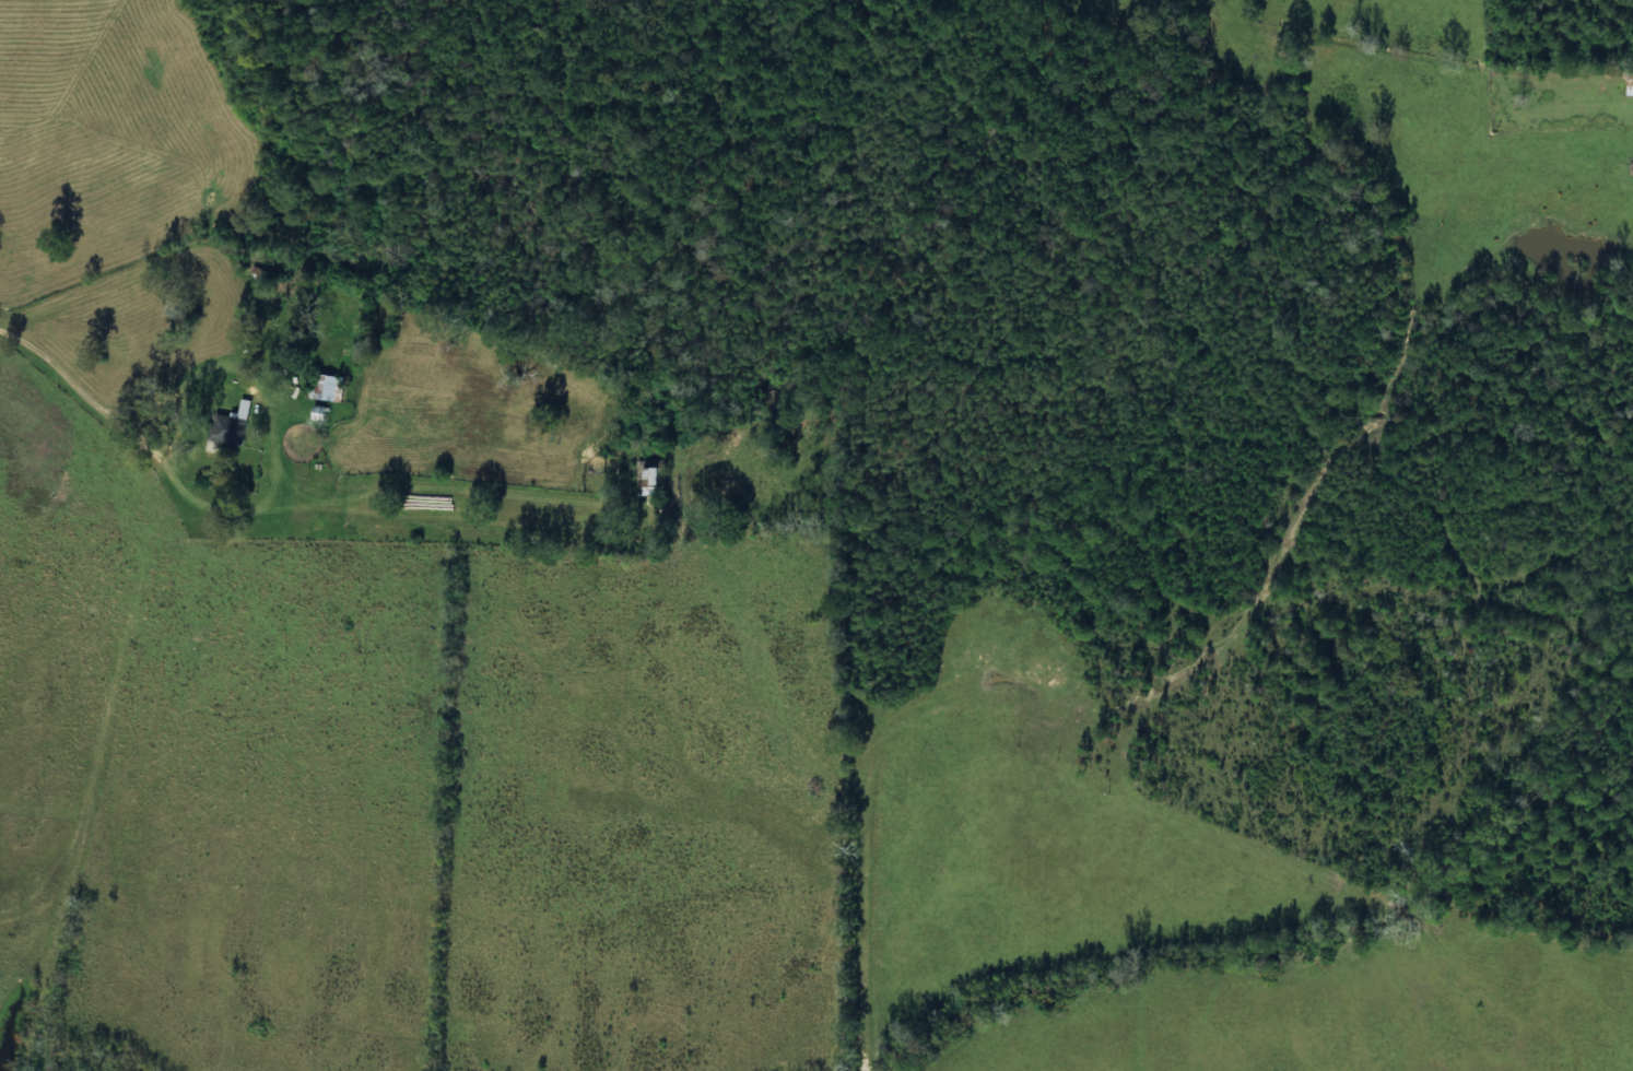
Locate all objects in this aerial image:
building: (1629, 86)
road: (176, 332)
building: (329, 386)
building: (248, 408)

